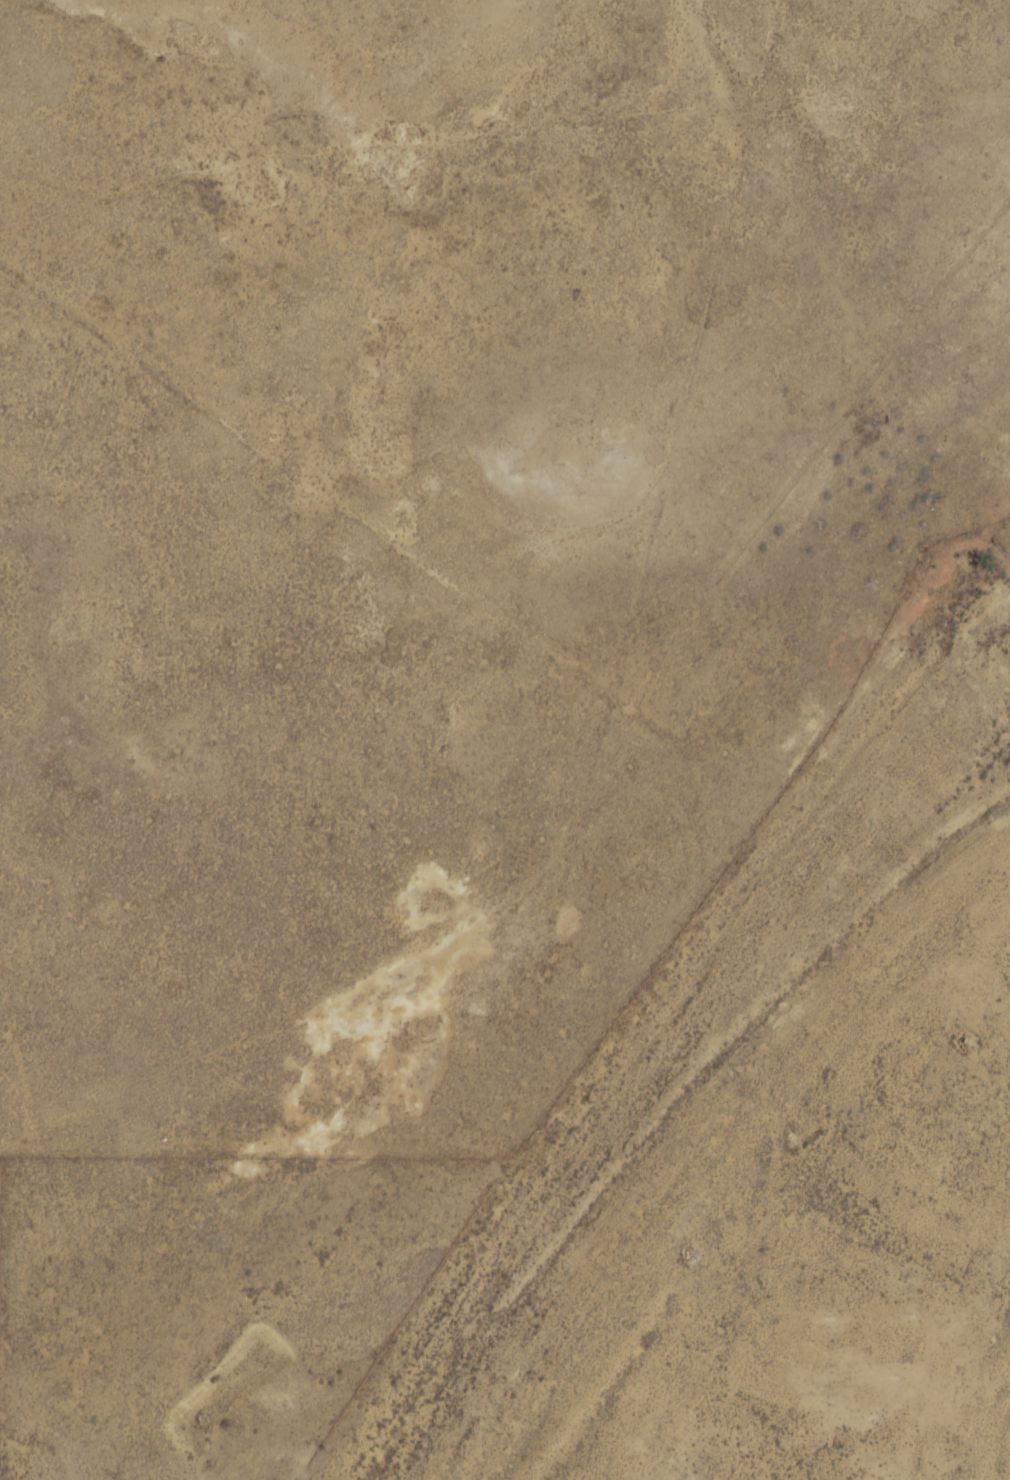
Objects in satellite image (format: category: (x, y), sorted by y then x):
quarry: (846, 1271)

